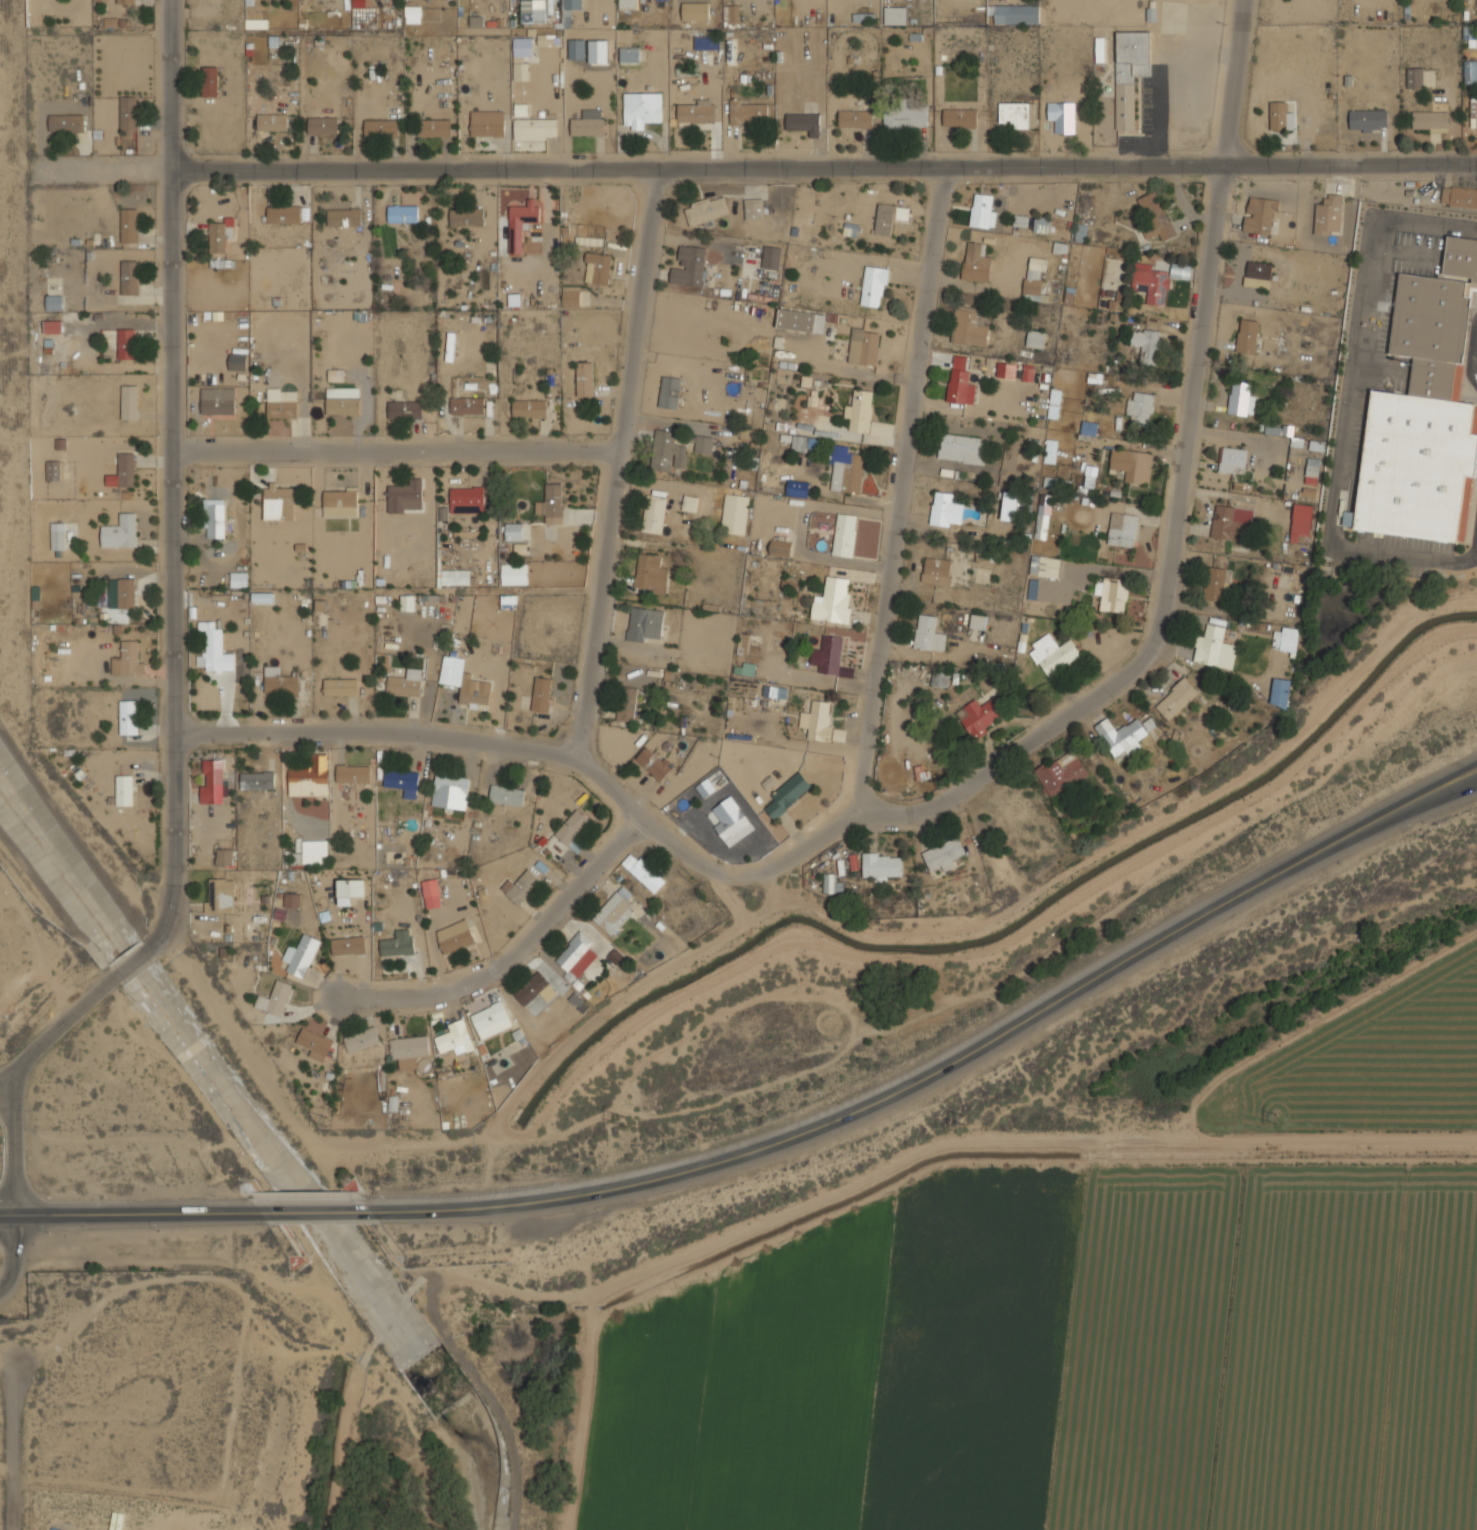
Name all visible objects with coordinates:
building: (359, 3)
building: (628, 4)
building: (573, 5)
building: (695, 10)
building: (534, 11)
building: (731, 12)
building: (1016, 13)
building: (413, 14)
building: (895, 14)
building: (256, 23)
building: (1468, 32)
building: (706, 41)
building: (577, 48)
building: (1099, 50)
building: (598, 52)
building: (630, 54)
building: (521, 55)
building: (730, 57)
building: (1129, 71)
building: (1471, 71)
building: (1415, 76)
building: (209, 81)
building: (641, 108)
building: (696, 110)
building: (747, 111)
building: (128, 113)
building: (1017, 113)
building: (1474, 113)
building: (1061, 115)
building: (1280, 115)
building: (960, 116)
building: (855, 118)
building: (906, 118)
building: (1368, 119)
building: (1429, 119)
building: (803, 121)
building: (272, 122)
building: (487, 122)
building: (588, 122)
building: (66, 123)
building: (323, 125)
building: (434, 128)
building: (535, 128)
building: (381, 129)
road: (755, 167)
building: (1459, 199)
building: (753, 208)
building: (706, 209)
building: (982, 210)
building: (284, 214)
building: (402, 214)
building: (1259, 214)
building: (1155, 215)
building: (1327, 215)
building: (344, 217)
building: (466, 217)
building: (888, 217)
building: (1020, 220)
building: (520, 222)
building: (1041, 223)
building: (129, 225)
building: (220, 234)
building: (590, 240)
parking lot: (1418, 254)
building: (771, 257)
building: (976, 261)
building: (689, 265)
building: (599, 267)
building: (1258, 274)
building: (129, 277)
building: (1034, 277)
building: (1155, 279)
building: (874, 285)
building: (572, 296)
building: (53, 302)
building: (801, 319)
building: (970, 324)
building: (52, 326)
building: (1247, 336)
building: (1036, 338)
building: (126, 344)
building: (1147, 344)
building: (864, 346)
road: (1474, 361)
building: (237, 362)
building: (1006, 369)
building: (1027, 373)
building: (589, 376)
building: (959, 386)
building: (669, 392)
building: (1241, 399)
building: (217, 400)
building: (342, 401)
building: (129, 402)
building: (1055, 402)
road: (1347, 402)
building: (281, 403)
building: (467, 405)
building: (530, 407)
building: (1139, 407)
building: (405, 409)
building: (860, 409)
building: (1424, 413)
building: (1088, 428)
building: (798, 442)
building: (703, 443)
building: (961, 447)
building: (667, 450)
building: (1050, 450)
road: (396, 457)
building: (1232, 459)
road: (619, 463)
building: (1132, 463)
building: (845, 468)
building: (52, 470)
building: (123, 471)
building: (1091, 474)
road: (171, 478)
building: (1056, 482)
building: (798, 487)
building: (405, 496)
road: (1180, 496)
building: (462, 500)
building: (279, 502)
building: (552, 502)
building: (690, 502)
building: (340, 503)
building: (1010, 505)
building: (942, 508)
building: (734, 512)
building: (654, 513)
building: (1043, 515)
building: (214, 518)
building: (1300, 522)
building: (1231, 523)
building: (1122, 528)
building: (515, 531)
building: (120, 532)
building: (845, 534)
building: (57, 536)
building: (781, 548)
road: (889, 560)
building: (1045, 565)
building: (936, 570)
building: (652, 572)
building: (515, 573)
building: (455, 577)
building: (238, 579)
building: (1214, 583)
building: (1032, 589)
building: (1111, 592)
building: (121, 593)
building: (834, 599)
building: (507, 600)
building: (407, 603)
building: (978, 620)
building: (646, 624)
building: (929, 632)
building: (1285, 639)
building: (831, 653)
building: (1053, 653)
building: (127, 660)
building: (748, 669)
building: (931, 677)
building: (274, 681)
building: (405, 683)
building: (340, 687)
building: (775, 690)
building: (474, 692)
building: (1280, 692)
building: (541, 693)
building: (1176, 699)
building: (626, 704)
building: (982, 713)
building: (128, 717)
building: (818, 718)
building: (1124, 736)
road: (486, 742)
building: (654, 762)
building: (920, 772)
building: (353, 773)
building: (1061, 774)
building: (310, 777)
building: (257, 780)
road: (1468, 780)
building: (214, 781)
building: (402, 781)
road: (1468, 782)
building: (124, 790)
building: (450, 792)
building: (787, 794)
building: (507, 795)
building: (733, 826)
road: (71, 829)
building: (572, 830)
building: (315, 851)
building: (944, 854)
building: (224, 856)
building: (880, 866)
building: (644, 872)
building: (520, 886)
building: (350, 890)
building: (431, 893)
building: (220, 896)
building: (291, 900)
road: (152, 929)
building: (455, 936)
building: (397, 943)
building: (348, 945)
road: (512, 953)
building: (300, 956)
building: (616, 956)
building: (576, 958)
road: (131, 962)
building: (535, 989)
building: (275, 998)
building: (580, 1004)
building: (491, 1020)
road: (60, 1027)
building: (454, 1038)
building: (314, 1039)
building: (362, 1039)
building: (409, 1050)
crop: (1369, 1064)
road: (934, 1069)
road: (3, 1086)
power tower: (962, 1118)
power tower: (622, 1119)
power tower: (1274, 1119)
road: (15, 1188)
road: (309, 1208)
road: (128, 1211)
crop: (1066, 1361)
road: (15, 1450)
dam: (522, 1497)

